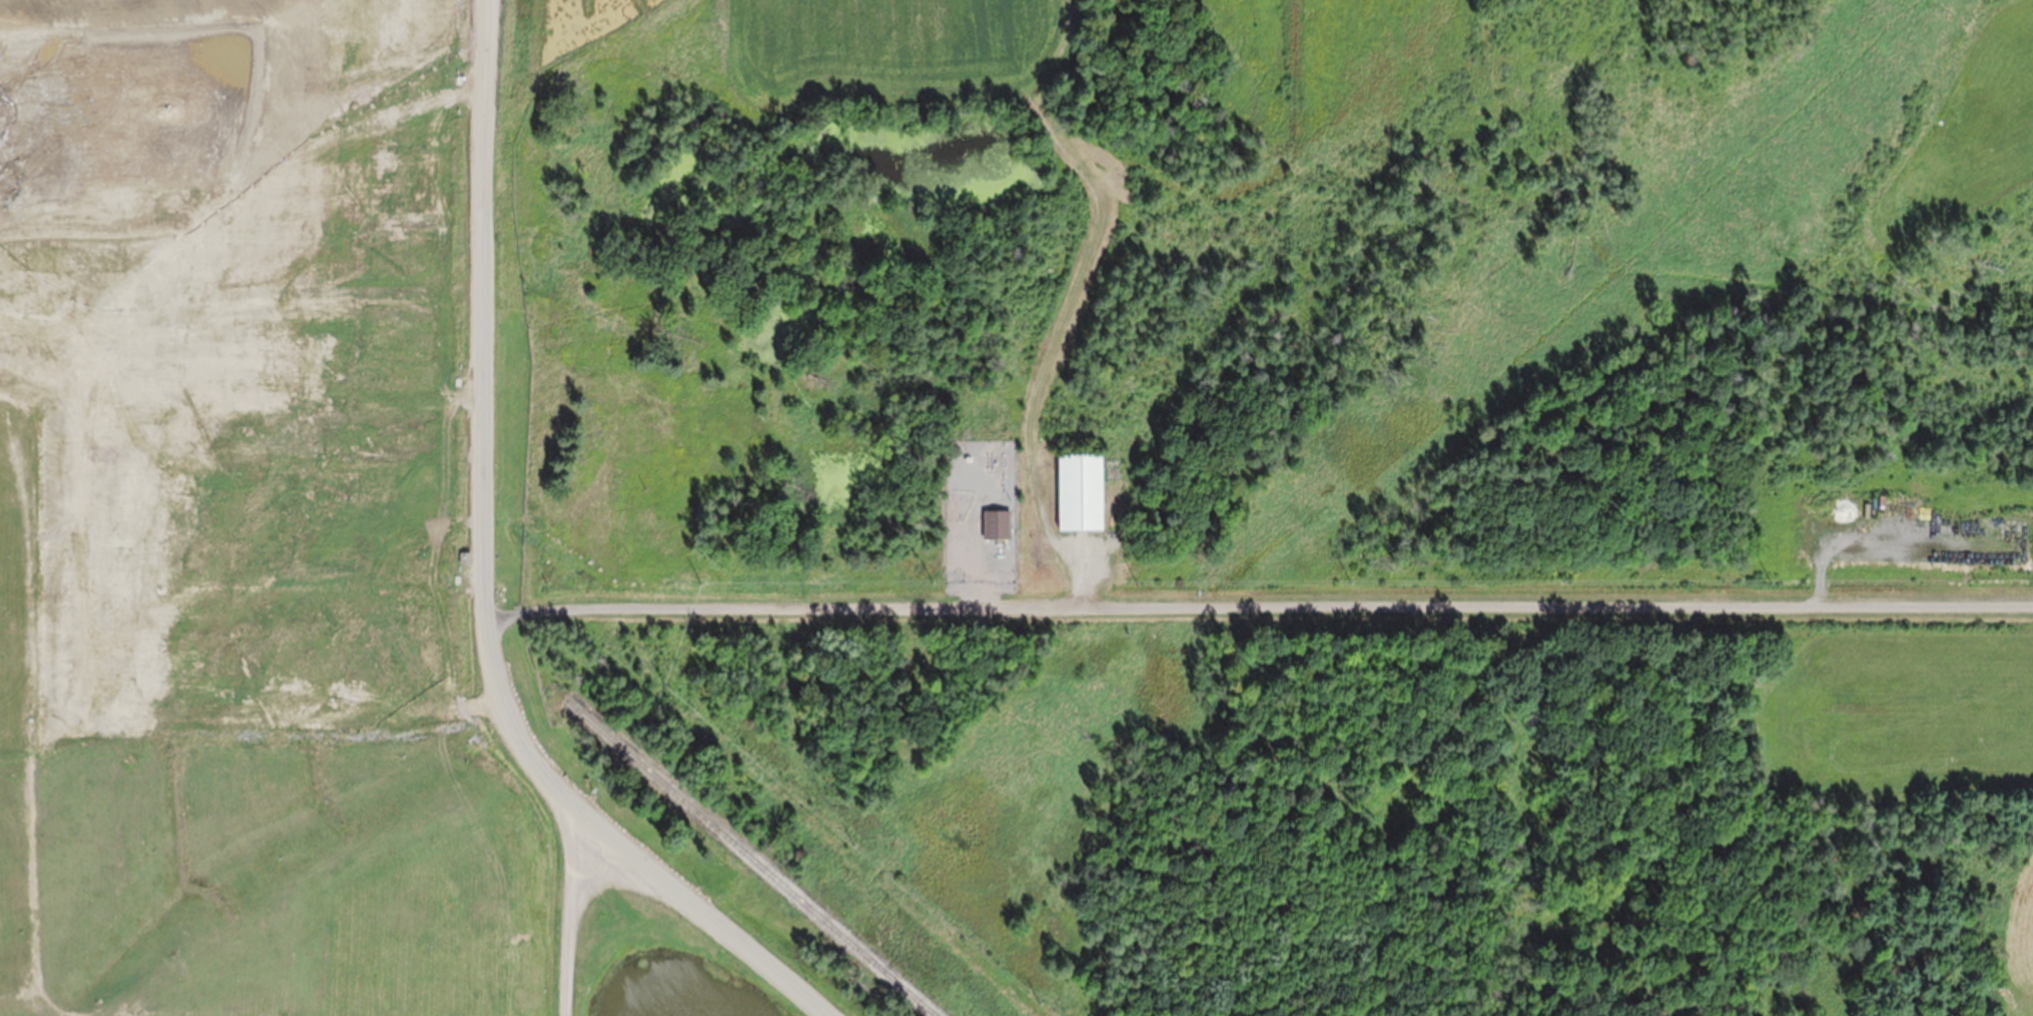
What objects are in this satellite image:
road: (480, 306)
building: (969, 457)
building: (1080, 490)
building: (1004, 508)
landfill: (1016, 508)
building: (1007, 528)
road: (1256, 605)
road: (471, 647)
railway: (752, 857)
road: (654, 872)

